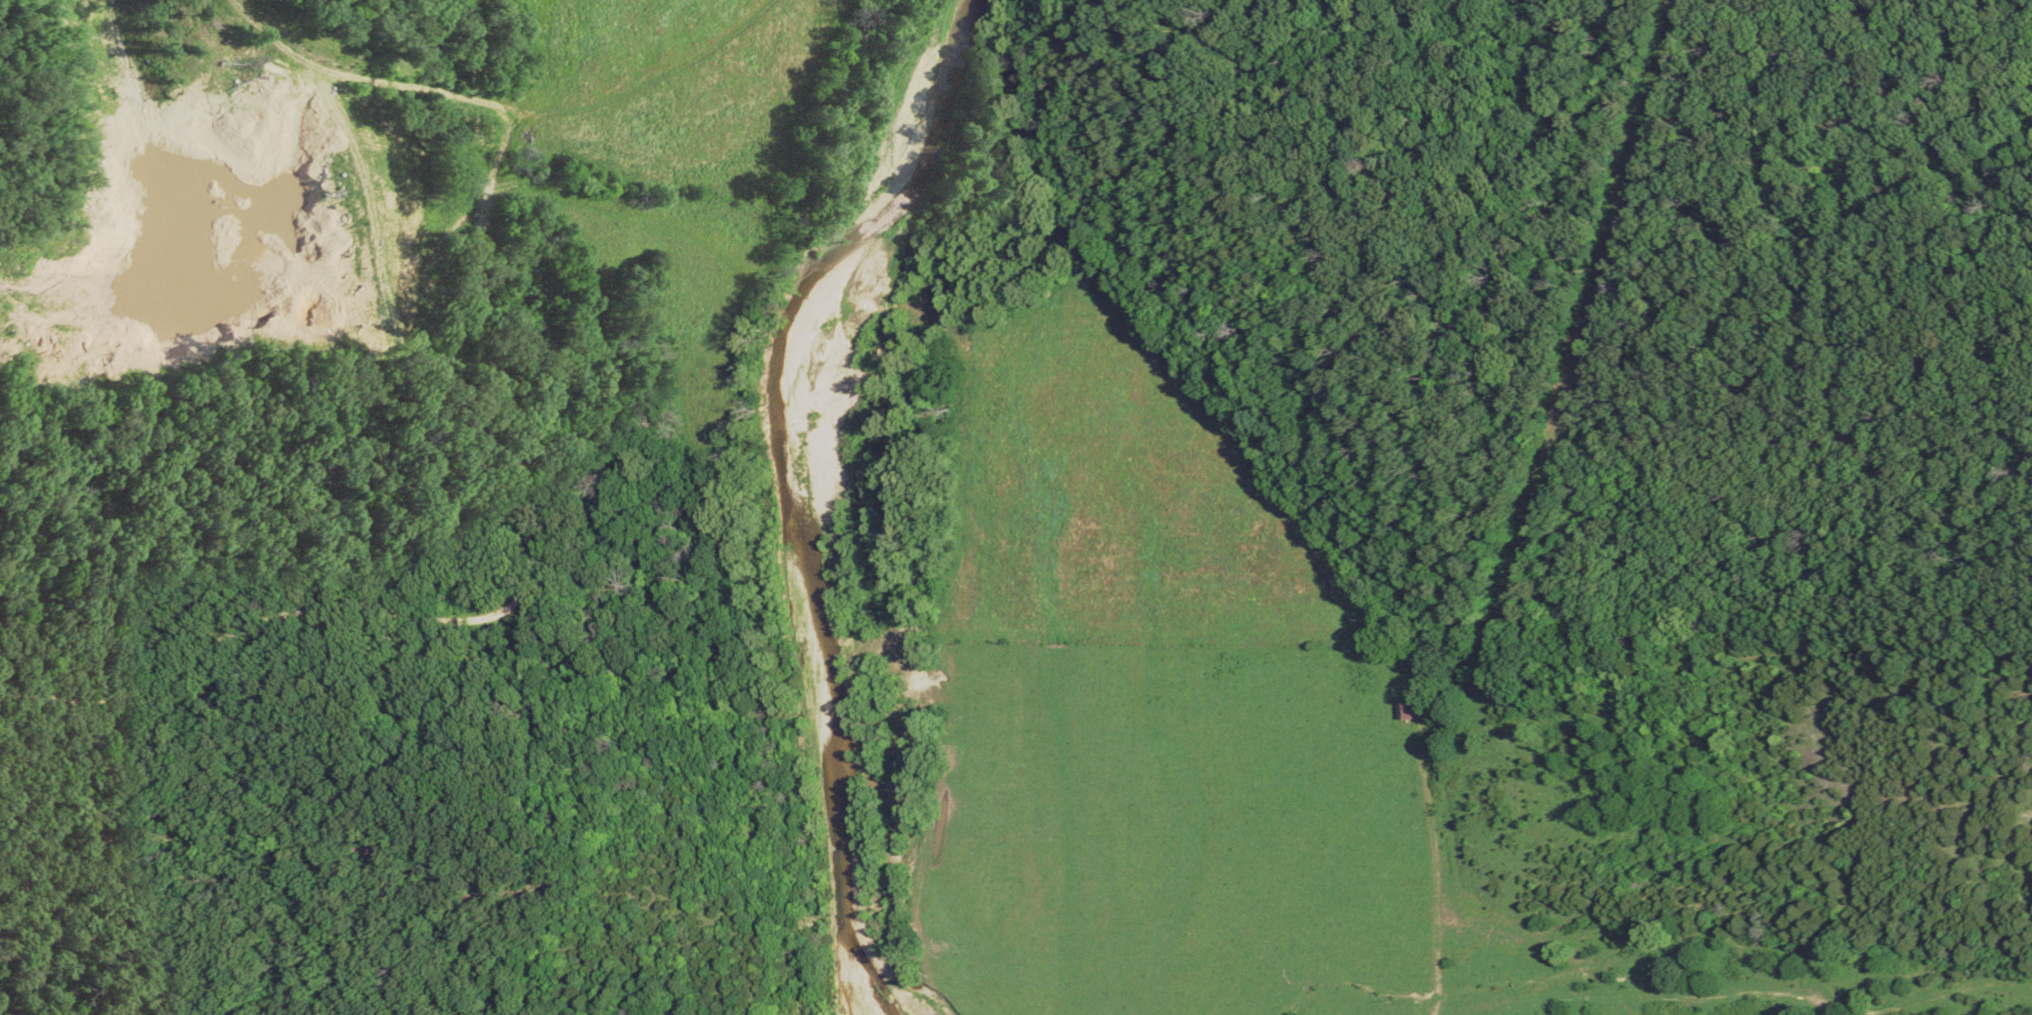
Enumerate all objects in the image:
road: (500, 106)
road: (965, 479)
building: (1404, 713)
road: (1436, 862)

